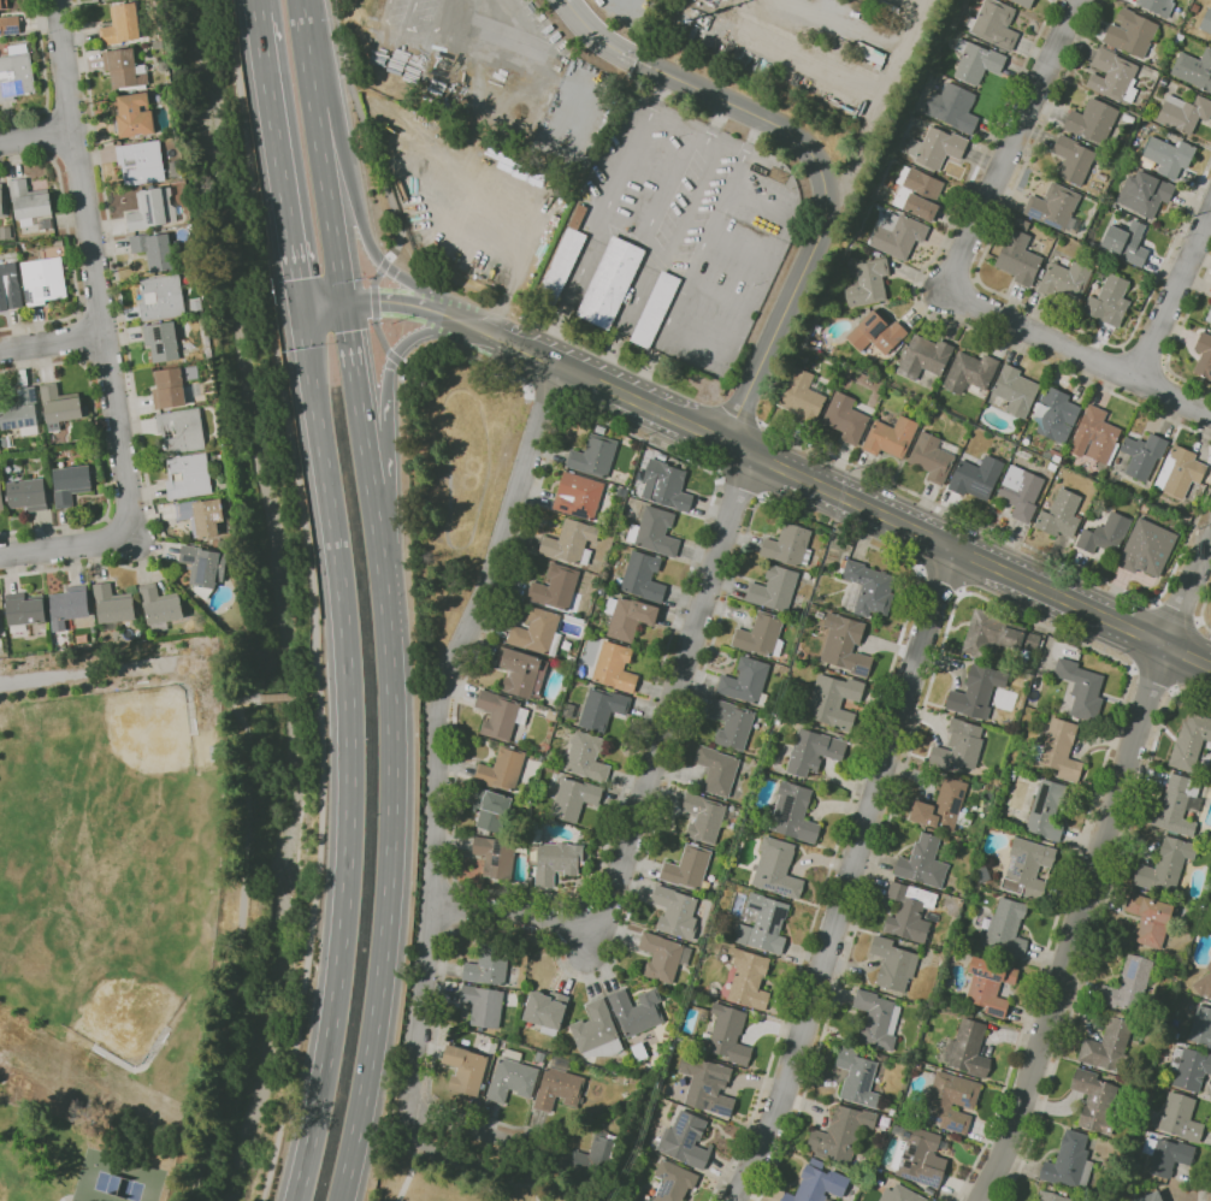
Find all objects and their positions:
building: (1023, 2)
building: (4, 5)
road: (256, 6)
building: (1158, 6)
building: (1194, 7)
building: (1139, 12)
road: (410, 13)
road: (453, 19)
building: (1206, 22)
building: (994, 24)
building: (10, 25)
building: (120, 25)
road: (404, 25)
building: (1130, 34)
road: (596, 35)
building: (976, 60)
building: (124, 70)
building: (1194, 70)
building: (1154, 72)
building: (16, 73)
road: (845, 75)
building: (1112, 76)
road: (45, 78)
building: (952, 107)
road: (69, 110)
building: (1183, 113)
building: (134, 116)
building: (1128, 118)
road: (717, 119)
building: (1092, 120)
road: (698, 131)
road: (48, 134)
road: (367, 135)
road: (34, 137)
road: (634, 143)
road: (1010, 146)
building: (937, 148)
road: (319, 152)
road: (75, 155)
building: (1169, 156)
building: (1073, 159)
road: (282, 161)
building: (141, 162)
road: (669, 182)
building: (917, 193)
building: (1144, 193)
road: (762, 199)
building: (1, 202)
road: (693, 202)
road: (355, 203)
building: (30, 205)
building: (1053, 206)
building: (152, 209)
road: (826, 211)
road: (638, 231)
building: (5, 232)
building: (898, 236)
building: (1127, 242)
road: (70, 248)
road: (740, 248)
building: (155, 250)
building: (876, 254)
building: (1017, 258)
road: (697, 259)
building: (562, 260)
road: (94, 270)
building: (1039, 278)
building: (42, 280)
building: (1064, 280)
building: (866, 282)
building: (609, 283)
road: (574, 284)
building: (10, 285)
road: (1000, 294)
road: (1171, 295)
road: (720, 296)
building: (160, 297)
road: (915, 297)
building: (1109, 302)
traffic signals: (343, 304)
road: (391, 304)
building: (195, 307)
road: (324, 307)
building: (655, 309)
traffic signals: (306, 310)
road: (99, 313)
building: (1209, 315)
road: (627, 316)
road: (455, 319)
building: (876, 333)
road: (1176, 337)
building: (161, 342)
road: (52, 343)
road: (696, 349)
road: (1122, 349)
road: (104, 354)
road: (1077, 354)
building: (1204, 355)
building: (923, 357)
road: (128, 360)
road: (1142, 361)
road: (390, 362)
road: (1164, 368)
building: (970, 373)
road: (354, 377)
building: (172, 386)
building: (1015, 391)
building: (803, 396)
building: (58, 406)
building: (22, 412)
building: (1057, 415)
building: (845, 419)
building: (181, 431)
building: (890, 437)
building: (1095, 437)
building: (4, 440)
road: (100, 451)
road: (678, 455)
building: (1046, 455)
building: (1142, 455)
building: (593, 456)
building: (661, 456)
building: (933, 456)
building: (1056, 458)
building: (1052, 467)
building: (1180, 472)
building: (188, 475)
park: (450, 475)
building: (976, 478)
building: (71, 484)
building: (666, 486)
road: (740, 487)
building: (1021, 493)
building: (29, 495)
road: (840, 495)
building: (578, 496)
building: (1, 497)
road: (373, 508)
building: (1144, 508)
building: (1059, 515)
building: (201, 516)
building: (654, 532)
building: (1104, 534)
road: (1016, 539)
building: (571, 542)
building: (215, 543)
building: (788, 546)
road: (66, 548)
building: (1147, 548)
road: (882, 550)
building: (203, 566)
road: (941, 575)
building: (642, 576)
building: (868, 587)
building: (556, 588)
building: (773, 588)
road: (313, 599)
building: (160, 604)
building: (70, 605)
building: (113, 605)
road: (1009, 609)
building: (24, 610)
road: (1178, 611)
road: (1203, 611)
building: (628, 617)
building: (574, 619)
building: (0, 621)
building: (537, 633)
building: (991, 633)
building: (761, 635)
building: (1033, 641)
building: (845, 645)
building: (571, 659)
road: (492, 664)
building: (614, 667)
building: (521, 673)
road: (1152, 679)
building: (745, 682)
building: (563, 688)
building: (1081, 690)
building: (977, 692)
road: (305, 694)
road: (276, 697)
building: (833, 700)
building: (602, 709)
building: (567, 710)
building: (500, 714)
building: (775, 720)
building: (732, 724)
road: (444, 735)
building: (1189, 741)
building: (958, 749)
building: (1058, 750)
building: (813, 751)
road: (350, 756)
building: (586, 757)
road: (652, 764)
building: (501, 769)
building: (716, 770)
building: (1011, 775)
building: (573, 799)
building: (1177, 806)
building: (944, 807)
building: (489, 811)
building: (1046, 811)
building: (793, 814)
building: (702, 817)
building: (495, 857)
building: (556, 862)
building: (923, 862)
building: (1165, 865)
building: (687, 868)
building: (1027, 868)
building: (776, 869)
road: (1095, 869)
road: (849, 876)
road: (388, 886)
road: (459, 909)
building: (675, 912)
building: (909, 912)
building: (1148, 919)
building: (764, 924)
building: (1006, 928)
road: (1095, 928)
road: (241, 942)
building: (662, 957)
building: (489, 964)
building: (892, 964)
building: (749, 980)
building: (1204, 983)
building: (1128, 984)
building: (988, 986)
building: (896, 995)
building: (692, 999)
building: (483, 1005)
building: (547, 1010)
building: (636, 1011)
building: (967, 1014)
building: (876, 1020)
building: (1201, 1027)
building: (597, 1031)
building: (728, 1035)
building: (1172, 1035)
building: (1107, 1045)
building: (968, 1049)
building: (917, 1065)
building: (465, 1069)
building: (1189, 1069)
building: (512, 1077)
building: (857, 1078)
building: (559, 1084)
building: (707, 1084)
building: (950, 1101)
building: (1094, 1101)
road: (462, 1111)
building: (1180, 1118)
park: (89, 1128)
building: (840, 1135)
building: (686, 1140)
road: (471, 1142)
building: (596, 1155)
building: (1166, 1155)
building: (920, 1156)
building: (1069, 1162)
road: (415, 1164)
park: (117, 1178)
park: (466, 1181)
road: (1203, 1181)
building: (673, 1182)
building: (817, 1185)
building: (929, 1190)
building: (902, 1194)
road: (67, 1196)
building: (1050, 1196)
building: (1150, 1197)
building: (636, 1200)

